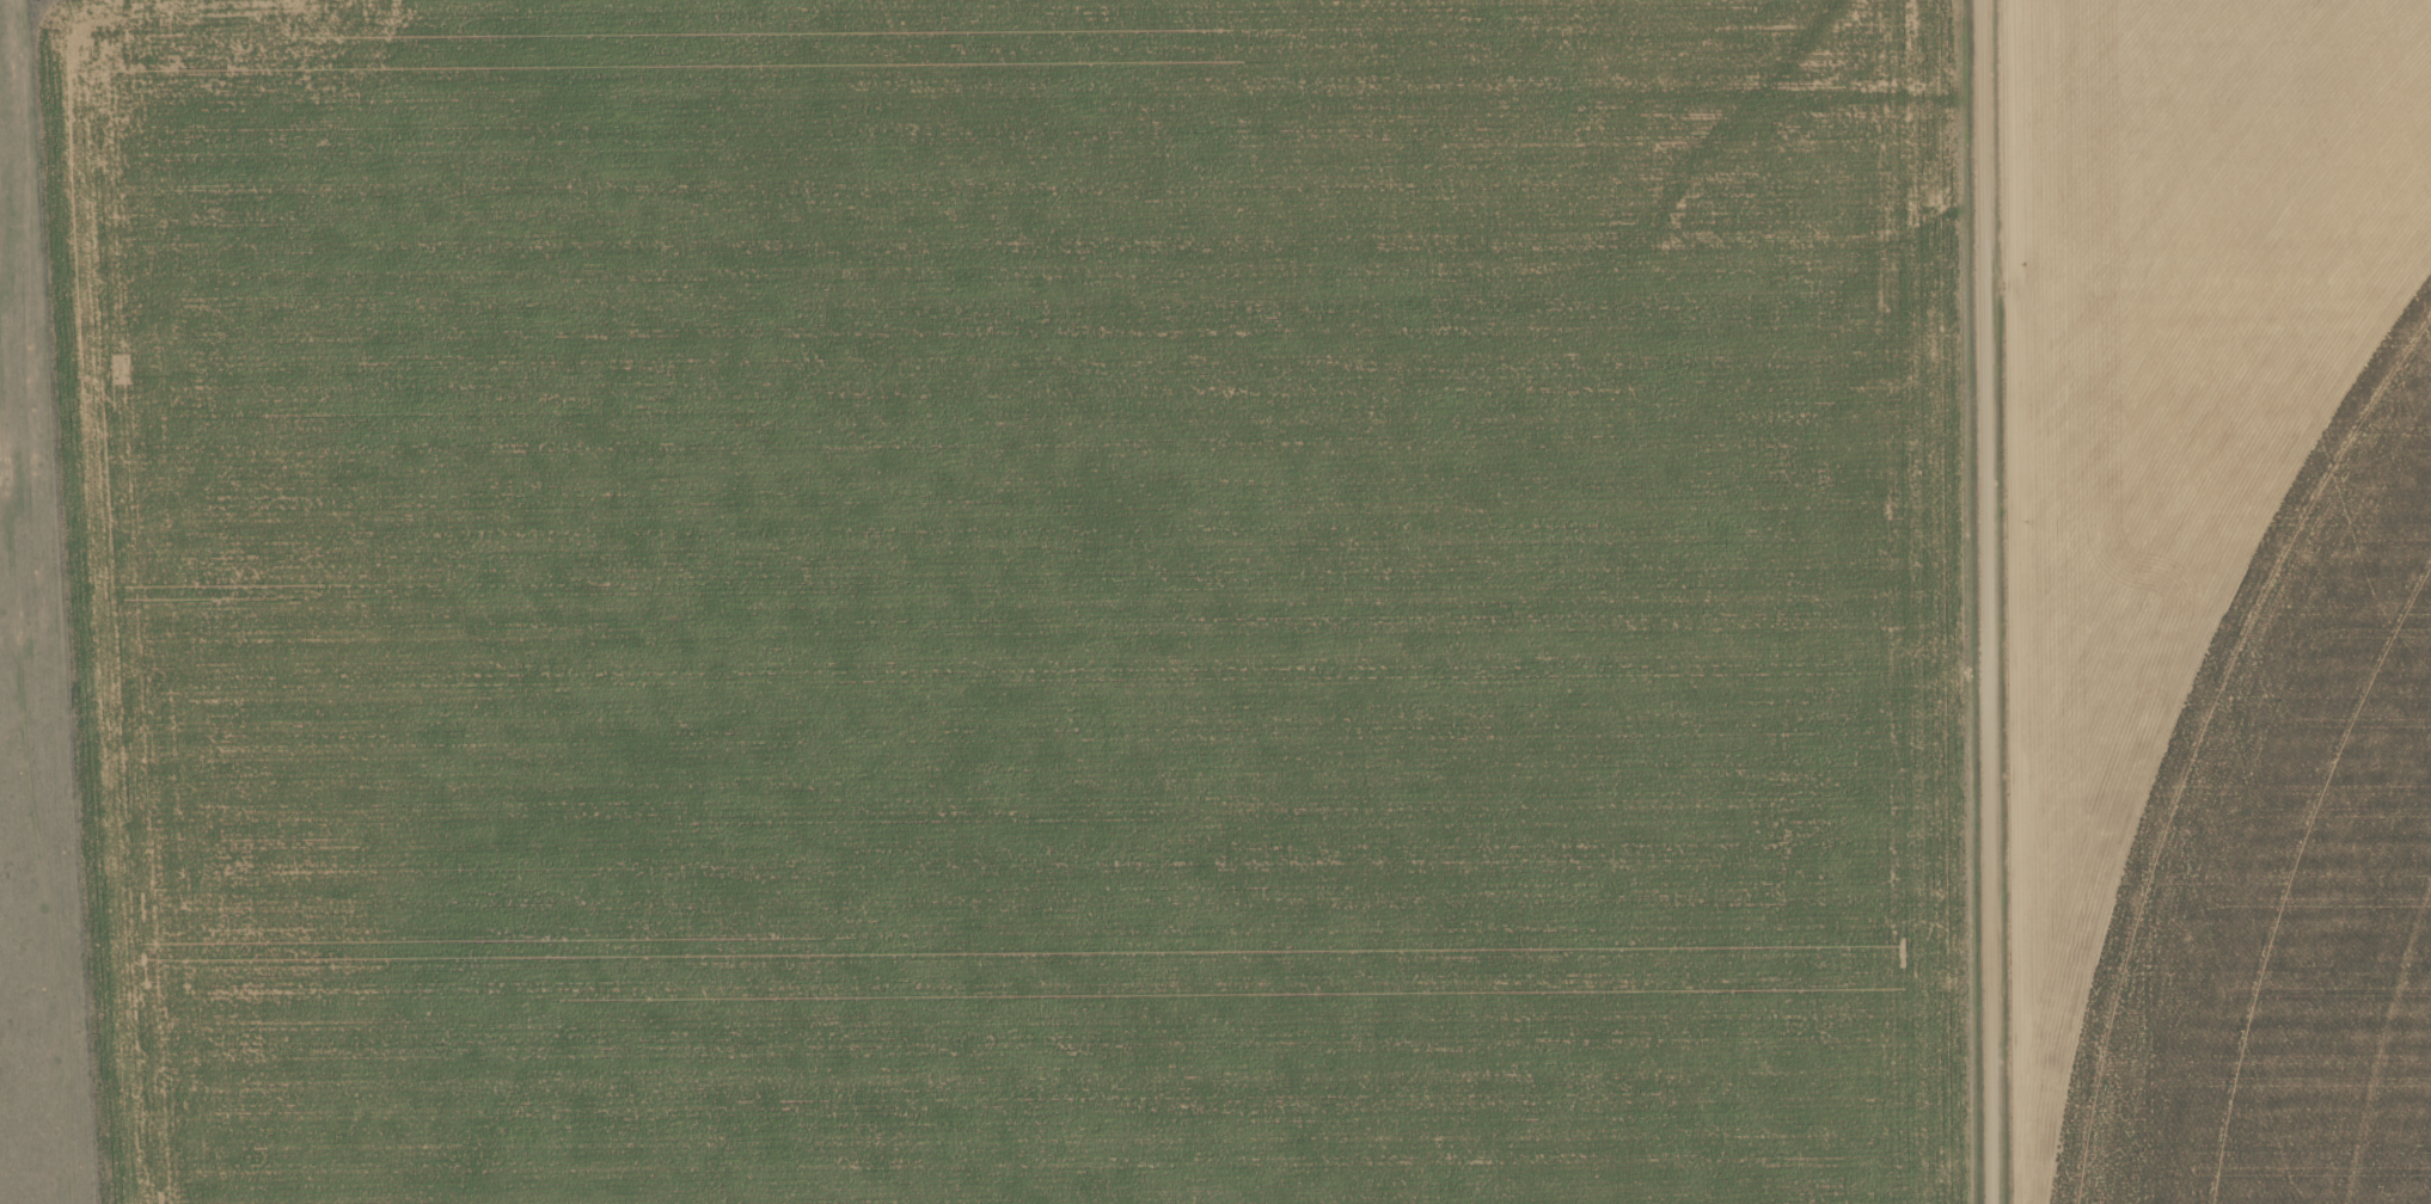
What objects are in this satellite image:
road: (1990, 601)

